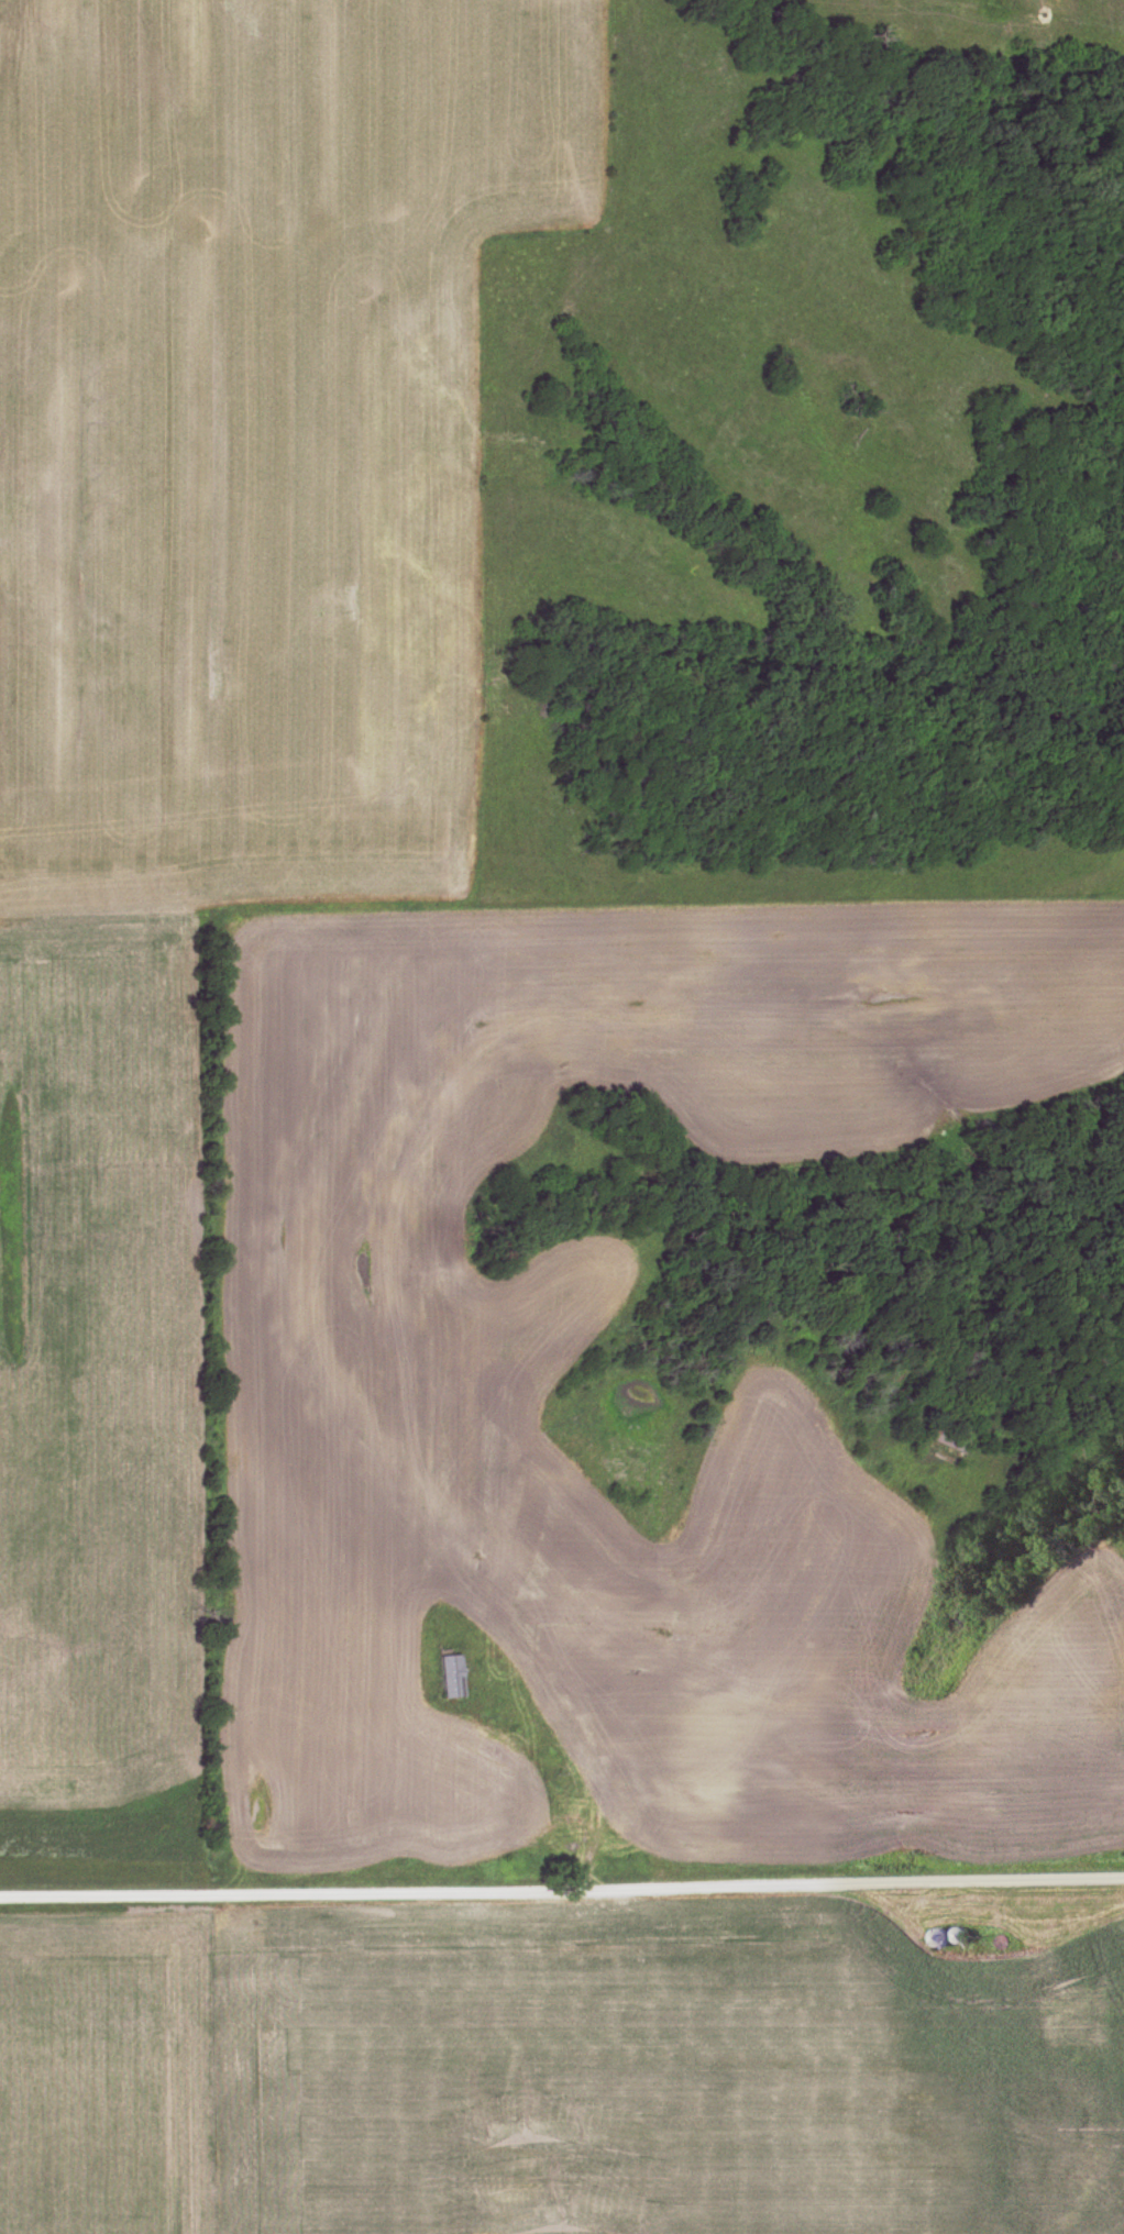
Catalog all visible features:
building: (945, 1437)
building: (449, 1677)
building: (732, 1685)
building: (628, 1714)
road: (562, 1894)
building: (949, 1936)

